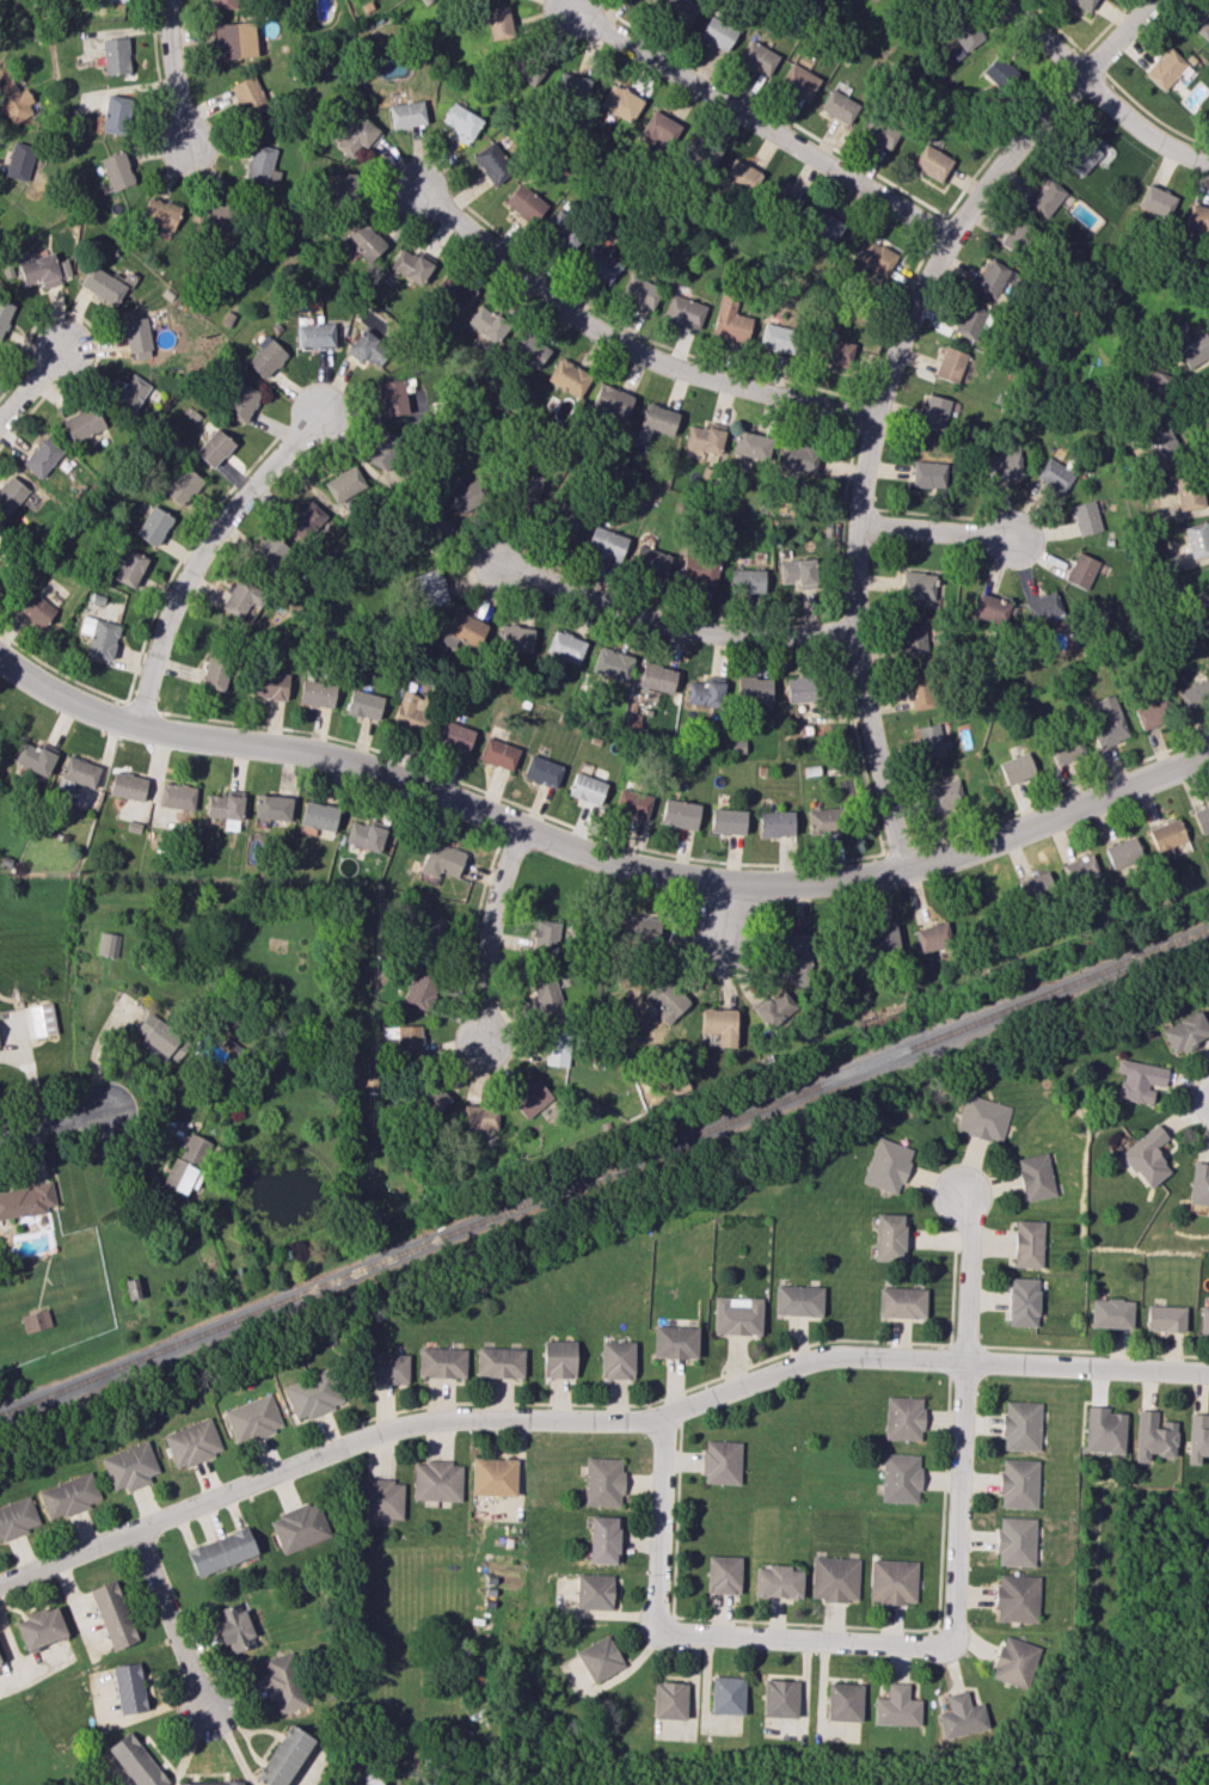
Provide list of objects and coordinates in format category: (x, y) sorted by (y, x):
building: (115, 0)
building: (928, 1)
building: (223, 4)
building: (1082, 4)
building: (679, 10)
building: (498, 22)
building: (1202, 22)
building: (964, 32)
building: (717, 33)
building: (233, 39)
road: (1081, 54)
building: (115, 55)
building: (757, 57)
road: (1072, 63)
road: (1093, 65)
building: (1165, 68)
building: (524, 70)
road: (170, 72)
building: (999, 72)
road: (160, 74)
building: (798, 81)
building: (571, 86)
road: (1098, 92)
building: (247, 96)
building: (14, 102)
building: (620, 103)
building: (837, 106)
road: (772, 112)
building: (116, 114)
building: (406, 114)
road: (1153, 116)
building: (461, 123)
road: (760, 124)
building: (658, 131)
building: (879, 131)
building: (357, 137)
road: (999, 142)
building: (700, 152)
building: (19, 160)
building: (492, 162)
building: (931, 162)
building: (260, 165)
building: (117, 171)
building: (741, 177)
building: (343, 188)
building: (779, 197)
building: (1045, 197)
building: (1156, 201)
building: (524, 203)
building: (215, 211)
building: (161, 213)
building: (1197, 219)
building: (823, 226)
building: (564, 231)
road: (938, 232)
building: (1014, 237)
building: (364, 240)
building: (873, 257)
building: (600, 264)
building: (410, 265)
building: (43, 270)
building: (993, 278)
building: (102, 286)
building: (454, 290)
building: (639, 292)
building: (683, 311)
building: (4, 313)
building: (730, 320)
road: (891, 321)
building: (969, 321)
building: (487, 324)
building: (317, 335)
road: (97, 336)
building: (136, 337)
building: (778, 337)
road: (648, 339)
road: (625, 344)
building: (369, 348)
building: (528, 349)
building: (1195, 350)
building: (833, 351)
building: (265, 357)
building: (950, 364)
building: (567, 378)
road: (31, 382)
building: (1154, 385)
road: (879, 392)
building: (129, 394)
building: (392, 398)
building: (240, 401)
building: (610, 401)
building: (934, 412)
road: (861, 417)
building: (658, 418)
building: (82, 423)
building: (704, 438)
building: (1165, 442)
building: (750, 444)
building: (214, 448)
building: (383, 450)
building: (42, 456)
building: (798, 458)
building: (1002, 464)
building: (927, 474)
building: (1055, 474)
building: (344, 484)
building: (183, 485)
building: (528, 489)
building: (1189, 491)
building: (11, 493)
building: (467, 496)
road: (860, 508)
building: (564, 515)
road: (939, 516)
building: (1086, 517)
building: (306, 521)
road: (842, 523)
building: (153, 526)
building: (438, 527)
road: (937, 530)
building: (1197, 539)
building: (606, 544)
road: (198, 551)
building: (268, 554)
building: (650, 560)
building: (130, 568)
building: (1081, 570)
building: (700, 571)
building: (797, 572)
building: (745, 581)
building: (920, 585)
building: (430, 588)
building: (243, 599)
building: (1043, 607)
building: (35, 608)
road: (669, 609)
building: (992, 609)
road: (673, 625)
road: (152, 626)
building: (462, 631)
road: (842, 633)
building: (915, 636)
building: (99, 637)
building: (515, 638)
building: (565, 646)
building: (612, 663)
building: (216, 673)
building: (657, 677)
building: (269, 686)
building: (754, 689)
building: (799, 689)
building: (706, 692)
building: (921, 692)
building: (318, 693)
building: (1195, 695)
building: (364, 704)
road: (143, 709)
building: (409, 711)
building: (1152, 713)
building: (1106, 720)
building: (455, 735)
building: (929, 740)
building: (1066, 749)
building: (498, 753)
building: (33, 757)
building: (1017, 768)
building: (542, 771)
building: (78, 773)
building: (127, 786)
building: (587, 789)
road: (1062, 792)
building: (944, 795)
building: (177, 796)
building: (632, 803)
building: (272, 806)
building: (225, 809)
building: (680, 814)
building: (319, 815)
building: (1202, 818)
building: (728, 821)
building: (823, 821)
road: (508, 823)
building: (775, 823)
building: (364, 835)
building: (1166, 836)
road: (618, 841)
road: (900, 851)
building: (1123, 853)
road: (597, 857)
building: (441, 859)
building: (1080, 870)
building: (1035, 887)
road: (724, 916)
road: (475, 925)
building: (428, 927)
building: (639, 927)
road: (485, 932)
building: (933, 937)
building: (545, 938)
building: (882, 940)
building: (108, 944)
building: (798, 958)
building: (421, 989)
building: (548, 992)
building: (668, 999)
building: (774, 1008)
building: (41, 1019)
building: (719, 1025)
building: (1185, 1031)
building: (161, 1038)
building: (409, 1041)
building: (558, 1049)
road: (31, 1078)
building: (1140, 1080)
building: (432, 1098)
building: (532, 1098)
building: (479, 1117)
building: (983, 1118)
road: (53, 1120)
building: (195, 1149)
building: (1147, 1157)
building: (886, 1165)
railway: (603, 1172)
building: (182, 1177)
building: (1035, 1177)
building: (1199, 1185)
building: (26, 1200)
building: (889, 1237)
building: (1027, 1244)
road: (964, 1276)
building: (131, 1288)
building: (798, 1300)
building: (1023, 1301)
building: (901, 1302)
building: (1111, 1313)
building: (737, 1315)
building: (1165, 1318)
building: (35, 1320)
building: (1204, 1320)
building: (675, 1342)
building: (559, 1358)
building: (616, 1360)
building: (441, 1362)
building: (499, 1362)
building: (385, 1368)
building: (313, 1394)
building: (252, 1418)
road: (595, 1418)
building: (903, 1418)
building: (1020, 1425)
building: (1104, 1430)
building: (1153, 1436)
building: (1197, 1437)
building: (192, 1442)
building: (720, 1461)
building: (129, 1466)
building: (492, 1476)
building: (900, 1478)
building: (436, 1480)
building: (602, 1482)
building: (1018, 1483)
building: (69, 1496)
building: (381, 1498)
building: (17, 1517)
building: (299, 1527)
building: (603, 1539)
building: (1015, 1541)
building: (221, 1551)
building: (723, 1575)
building: (834, 1578)
building: (892, 1581)
building: (777, 1582)
building: (593, 1591)
building: (1017, 1597)
building: (112, 1614)
road: (171, 1619)
building: (39, 1627)
building: (234, 1627)
road: (835, 1640)
building: (599, 1658)
building: (1013, 1661)
building: (128, 1688)
building: (726, 1695)
building: (779, 1698)
building: (668, 1700)
building: (843, 1701)
building: (896, 1706)
building: (961, 1717)
building: (284, 1756)
building: (135, 1761)
building: (370, 1778)
building: (211, 1783)

